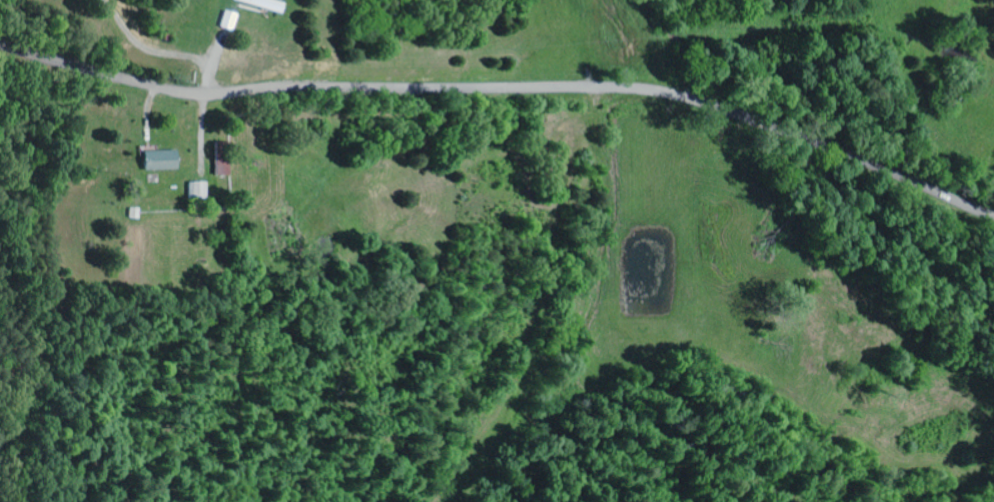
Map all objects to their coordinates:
building: (267, 4)
building: (232, 20)
road: (505, 87)
building: (164, 160)
building: (199, 190)

